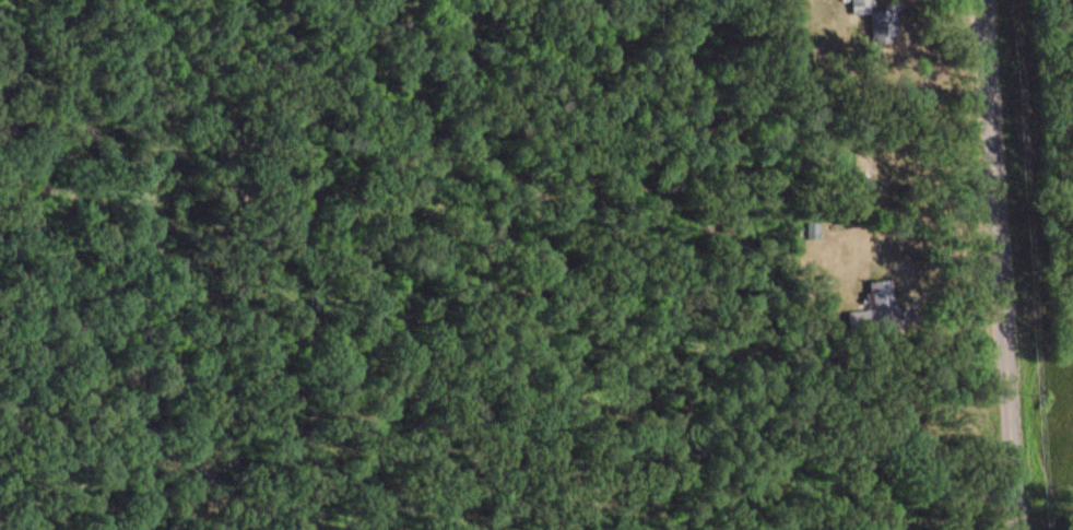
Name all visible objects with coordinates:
building: (860, 5)
building: (886, 17)
road: (1000, 264)
building: (882, 292)
building: (866, 318)

